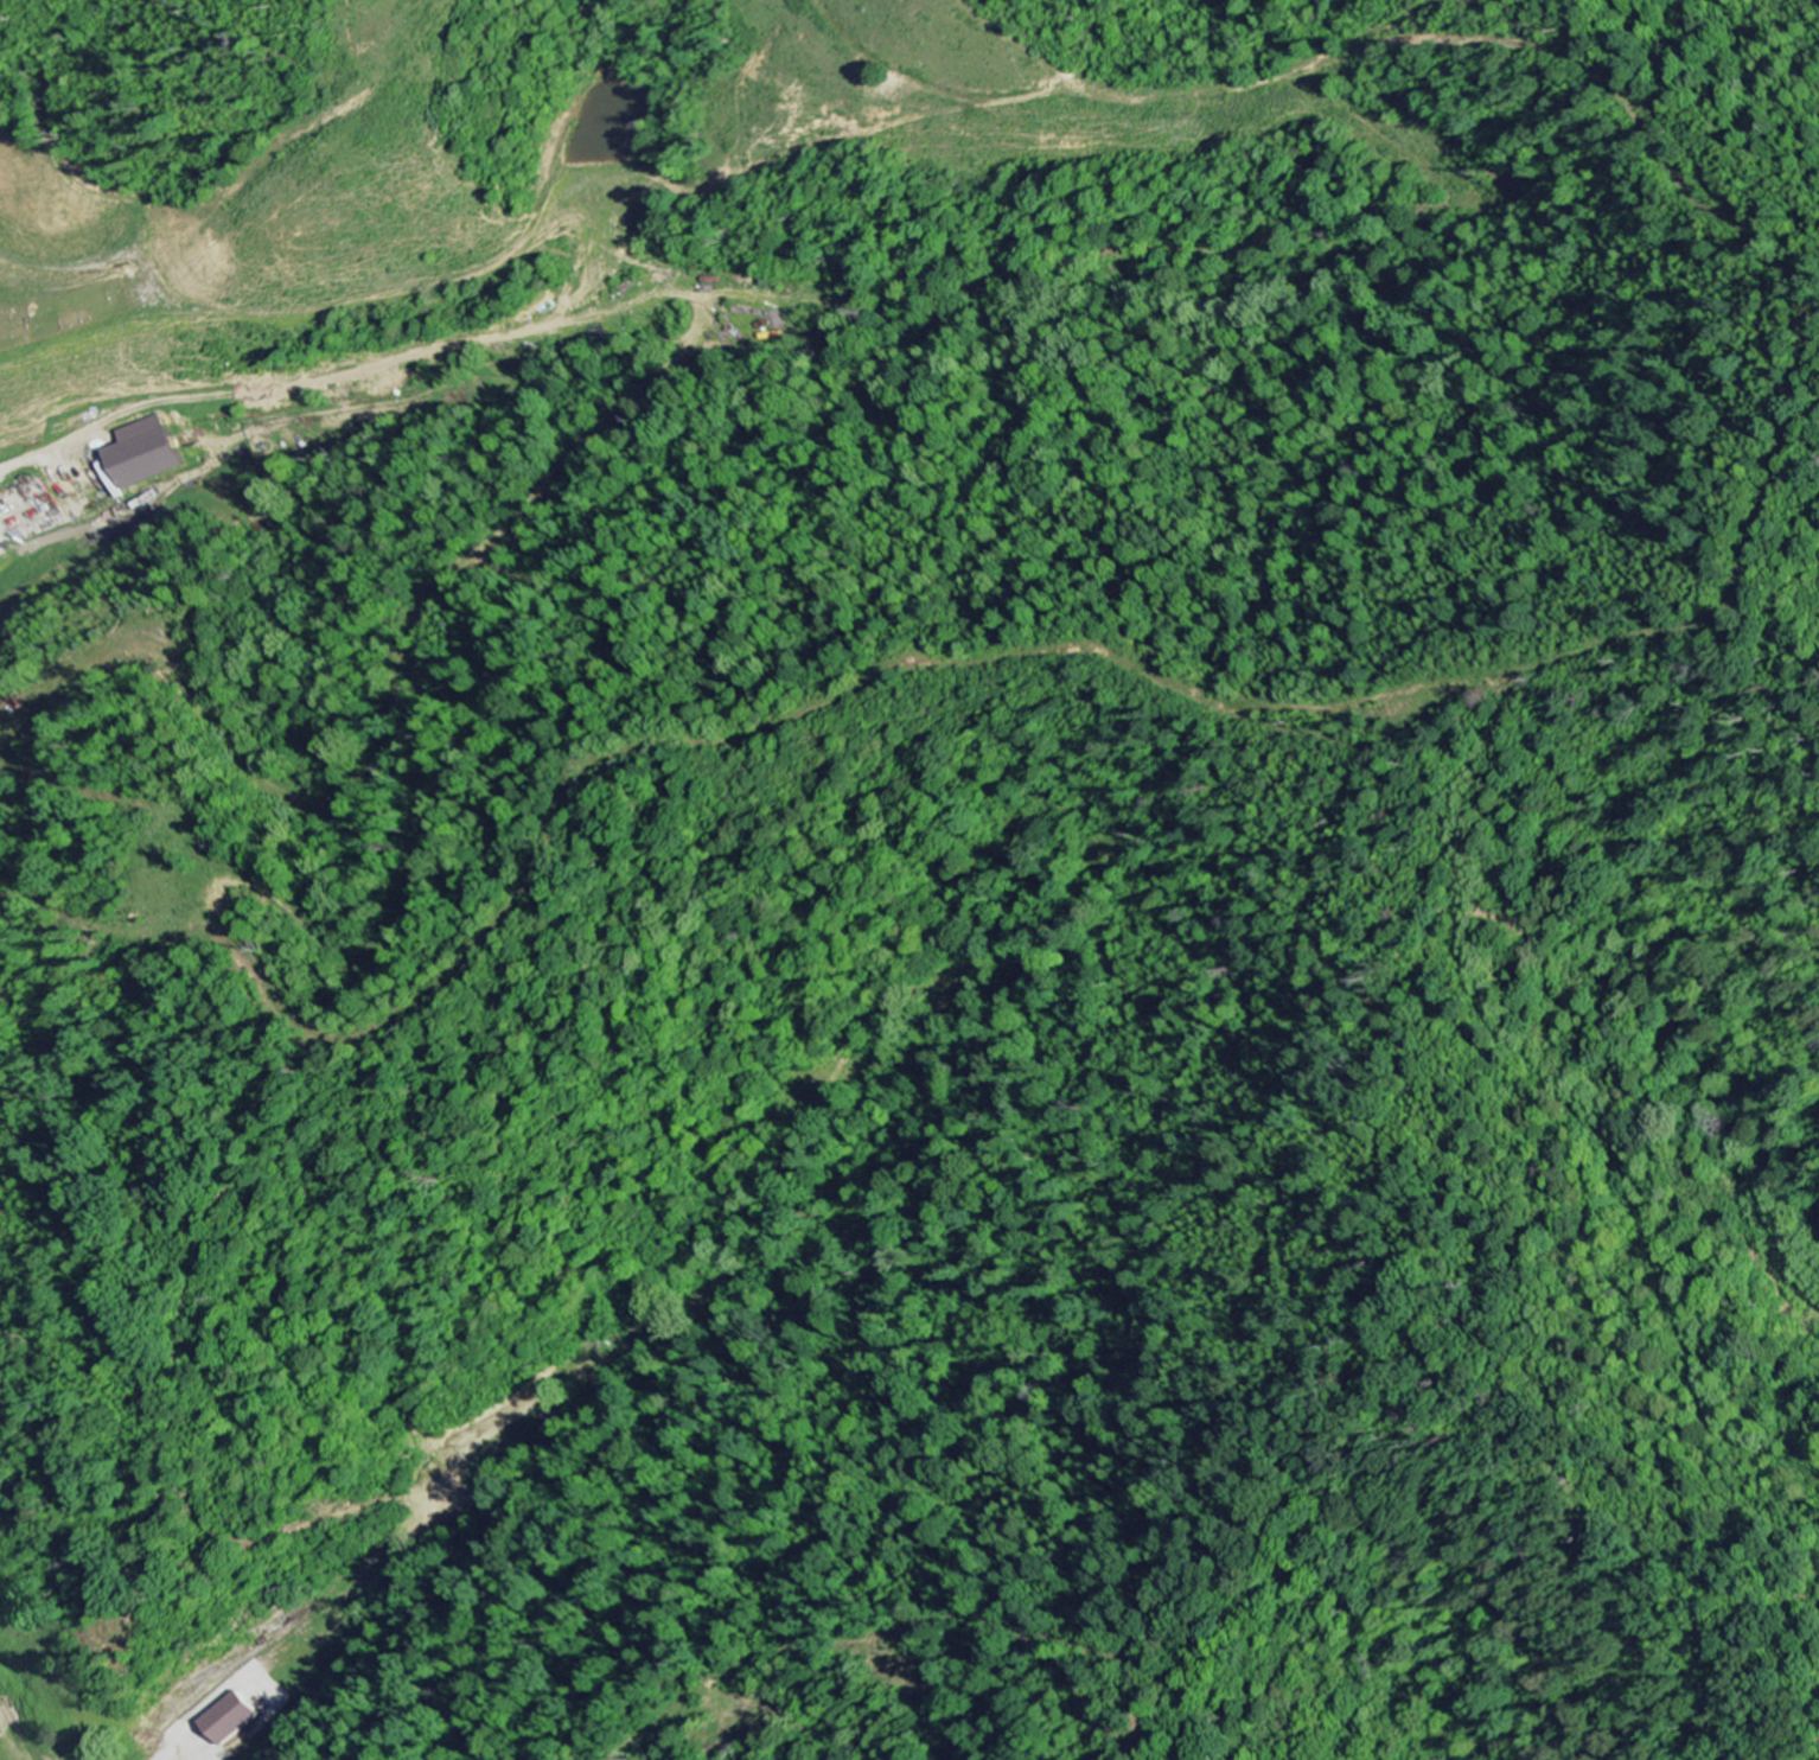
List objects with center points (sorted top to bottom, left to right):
building: (139, 458)
building: (221, 1720)

